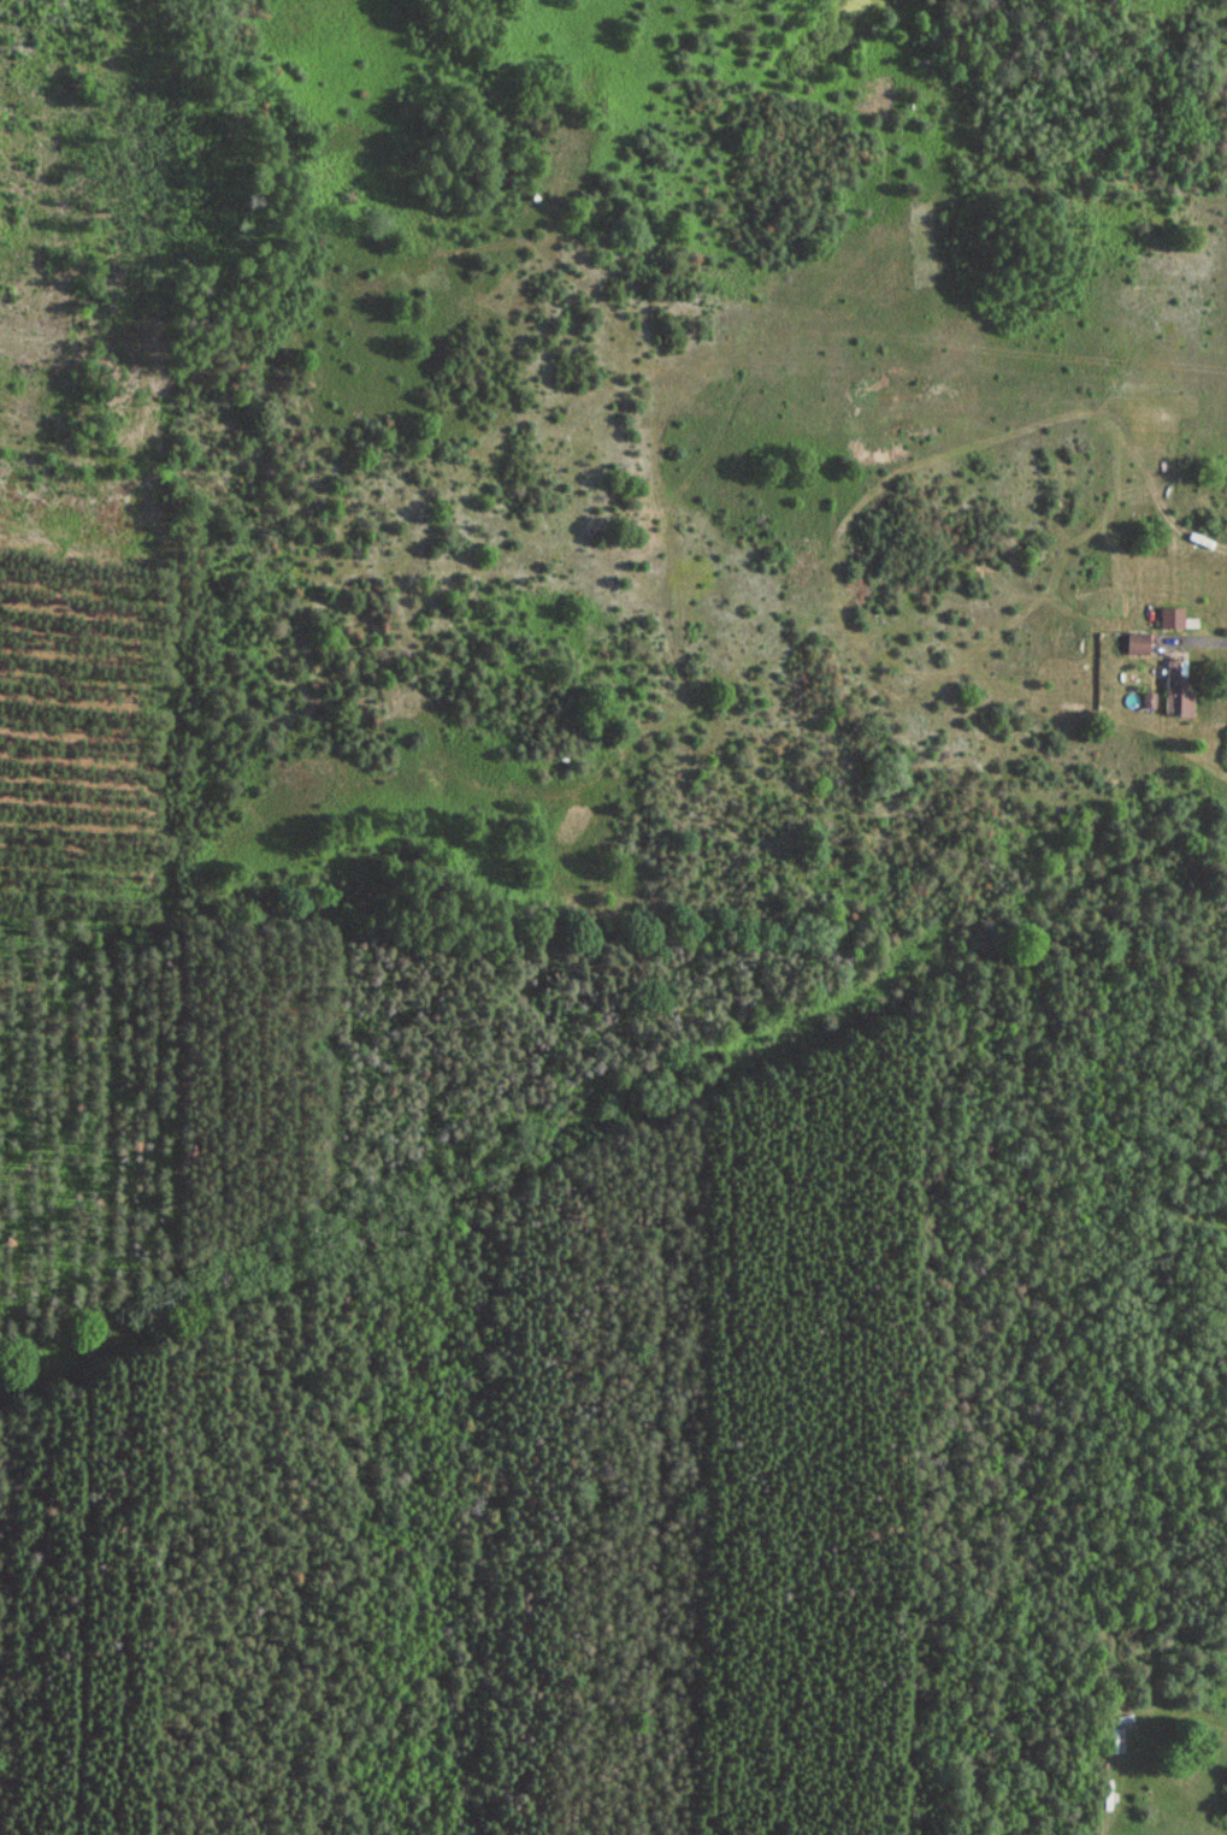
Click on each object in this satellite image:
building: (1168, 618)
building: (1135, 643)
building: (1175, 690)

